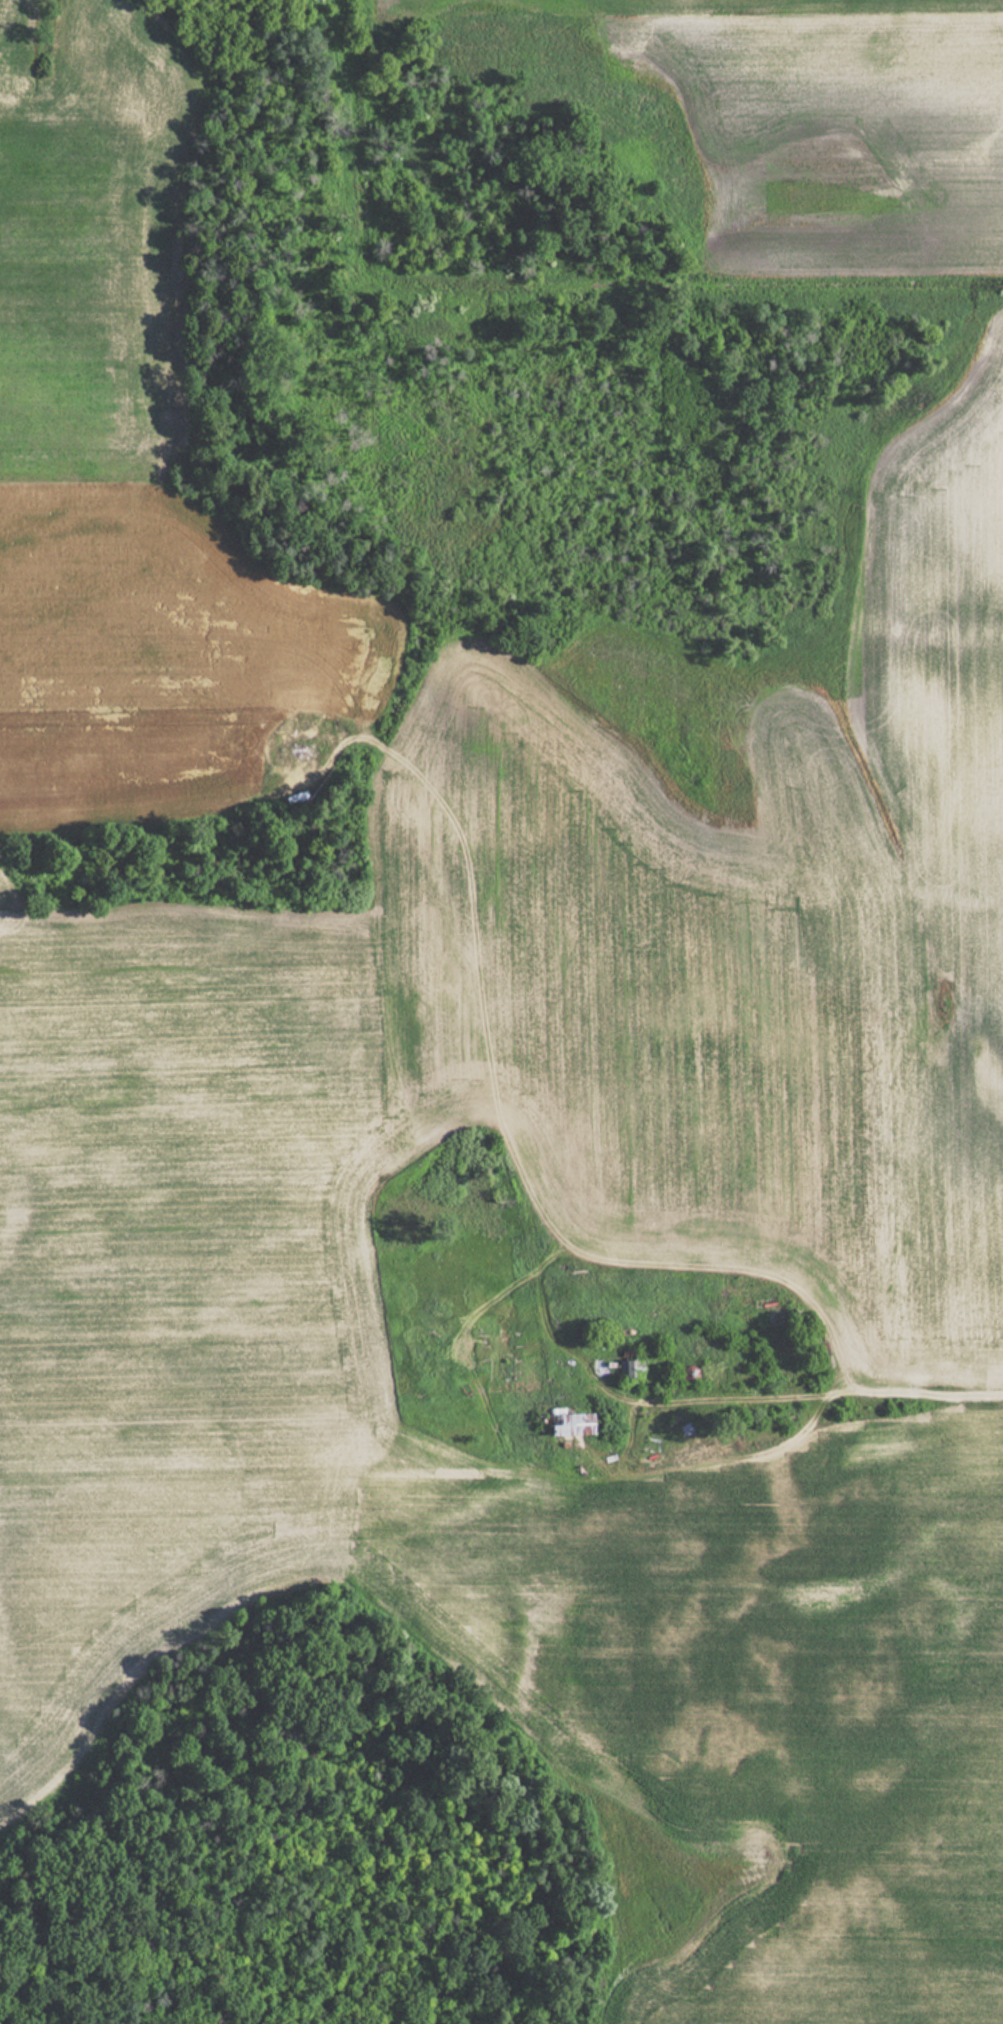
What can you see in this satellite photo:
road: (857, 1396)
building: (561, 1425)

